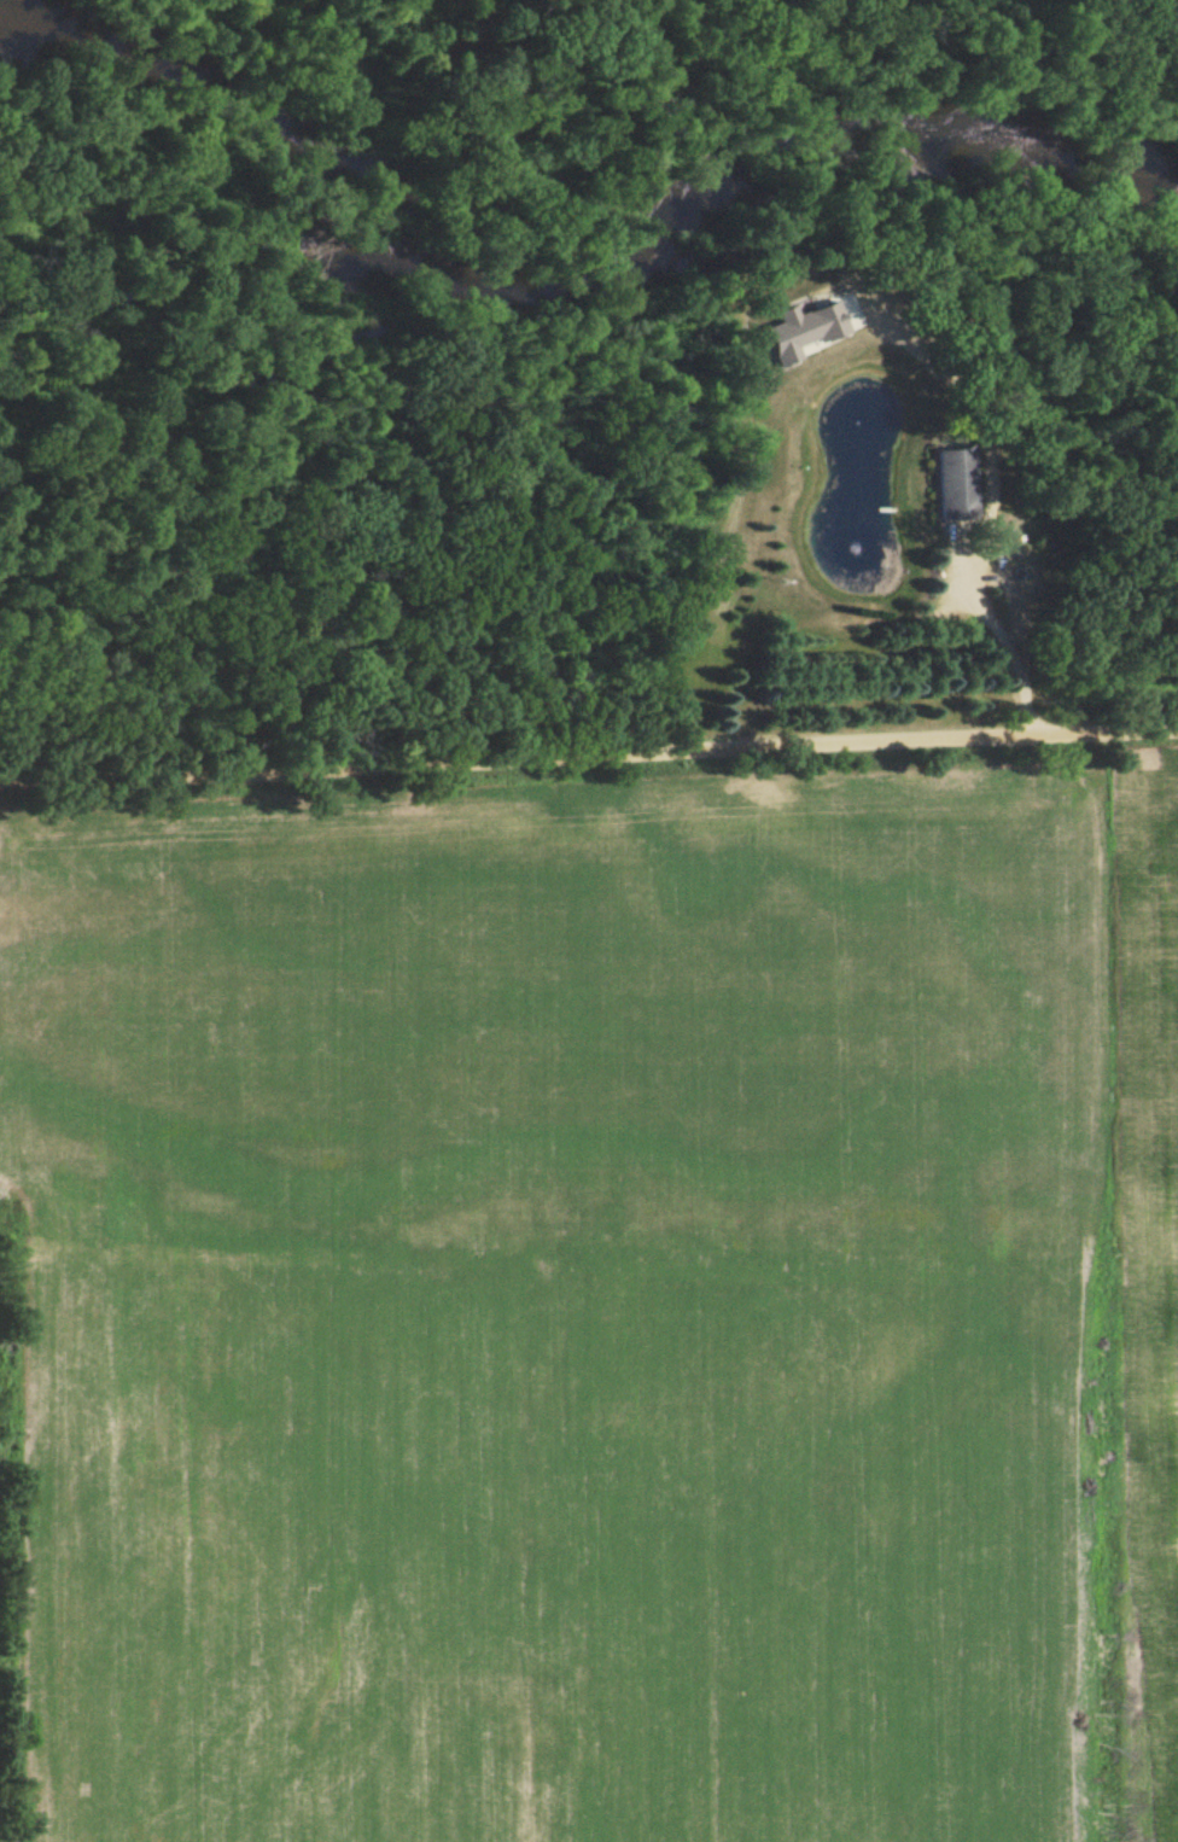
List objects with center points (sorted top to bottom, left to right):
river: (562, 308)
building: (956, 488)
road: (588, 754)

